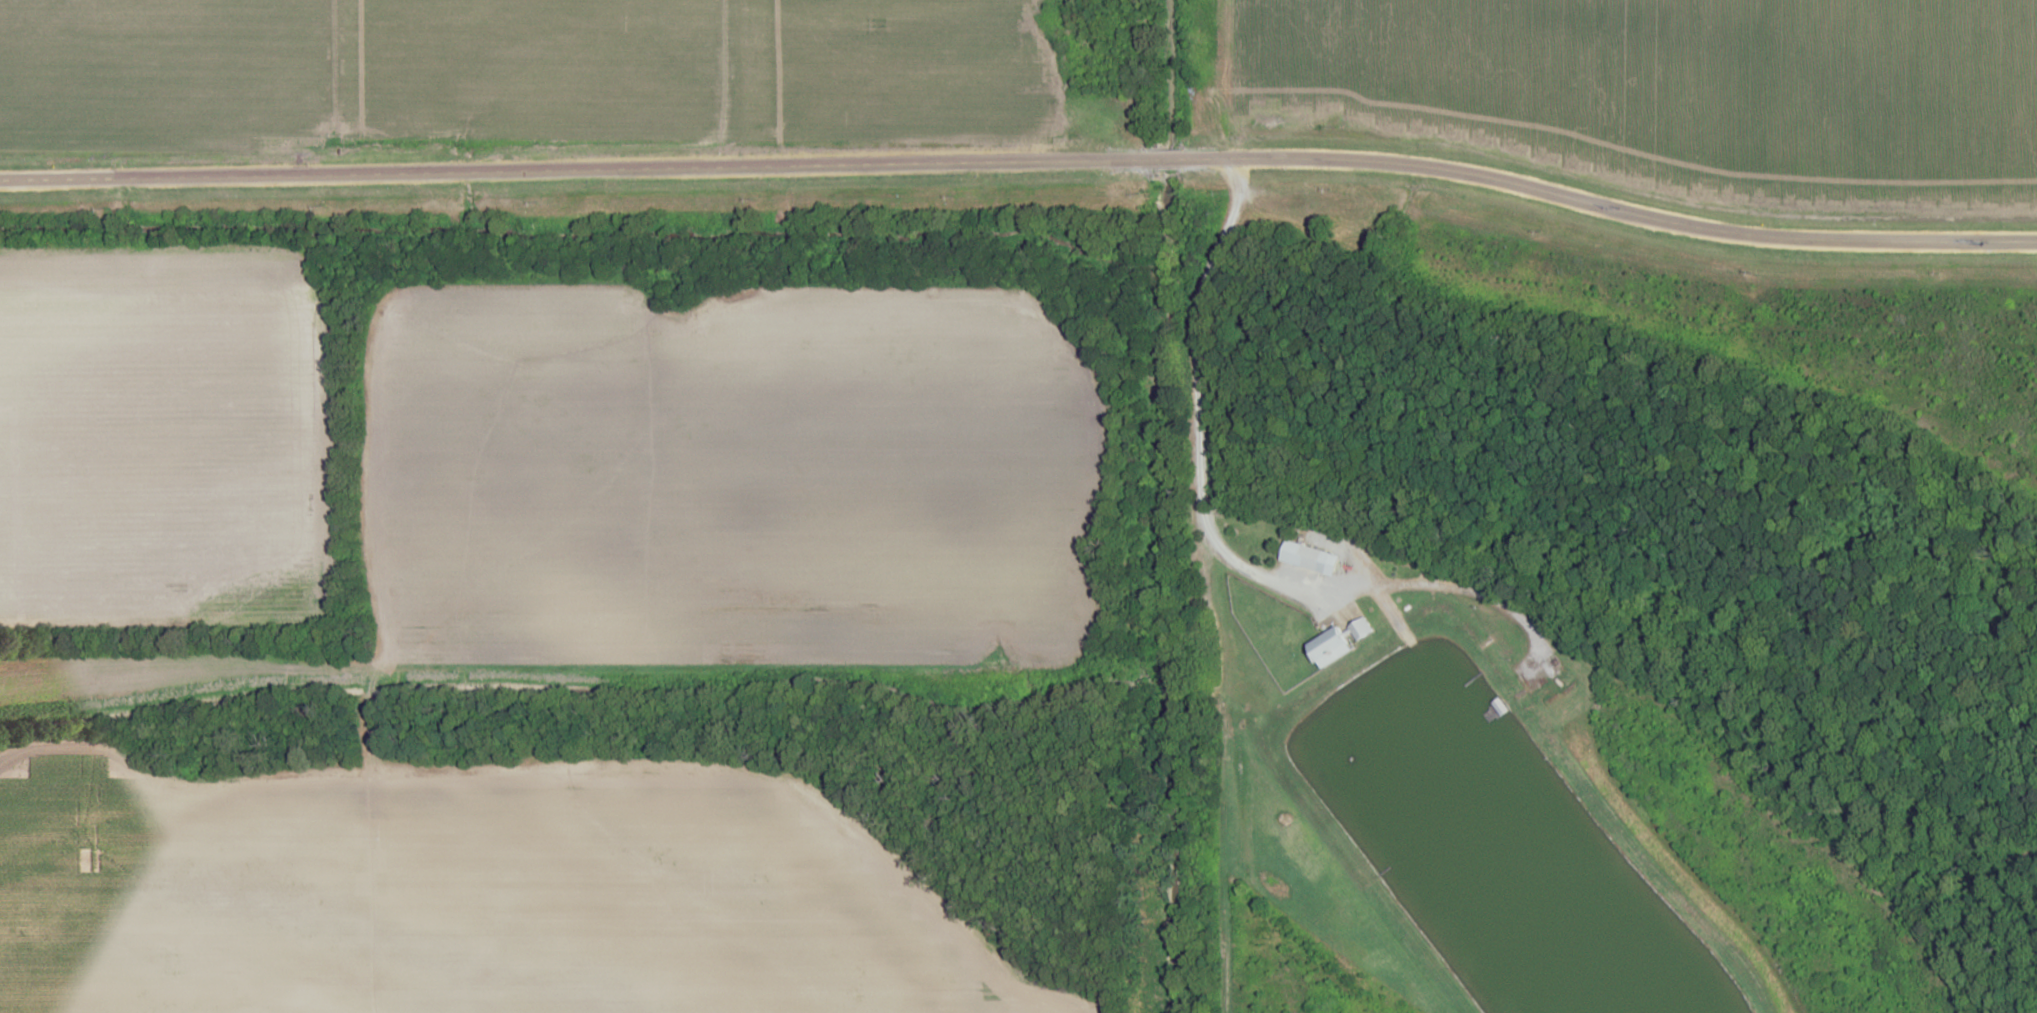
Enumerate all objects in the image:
road: (573, 170)
road: (1590, 205)
road: (1212, 545)
building: (1304, 556)
building: (1360, 627)
building: (1326, 647)

